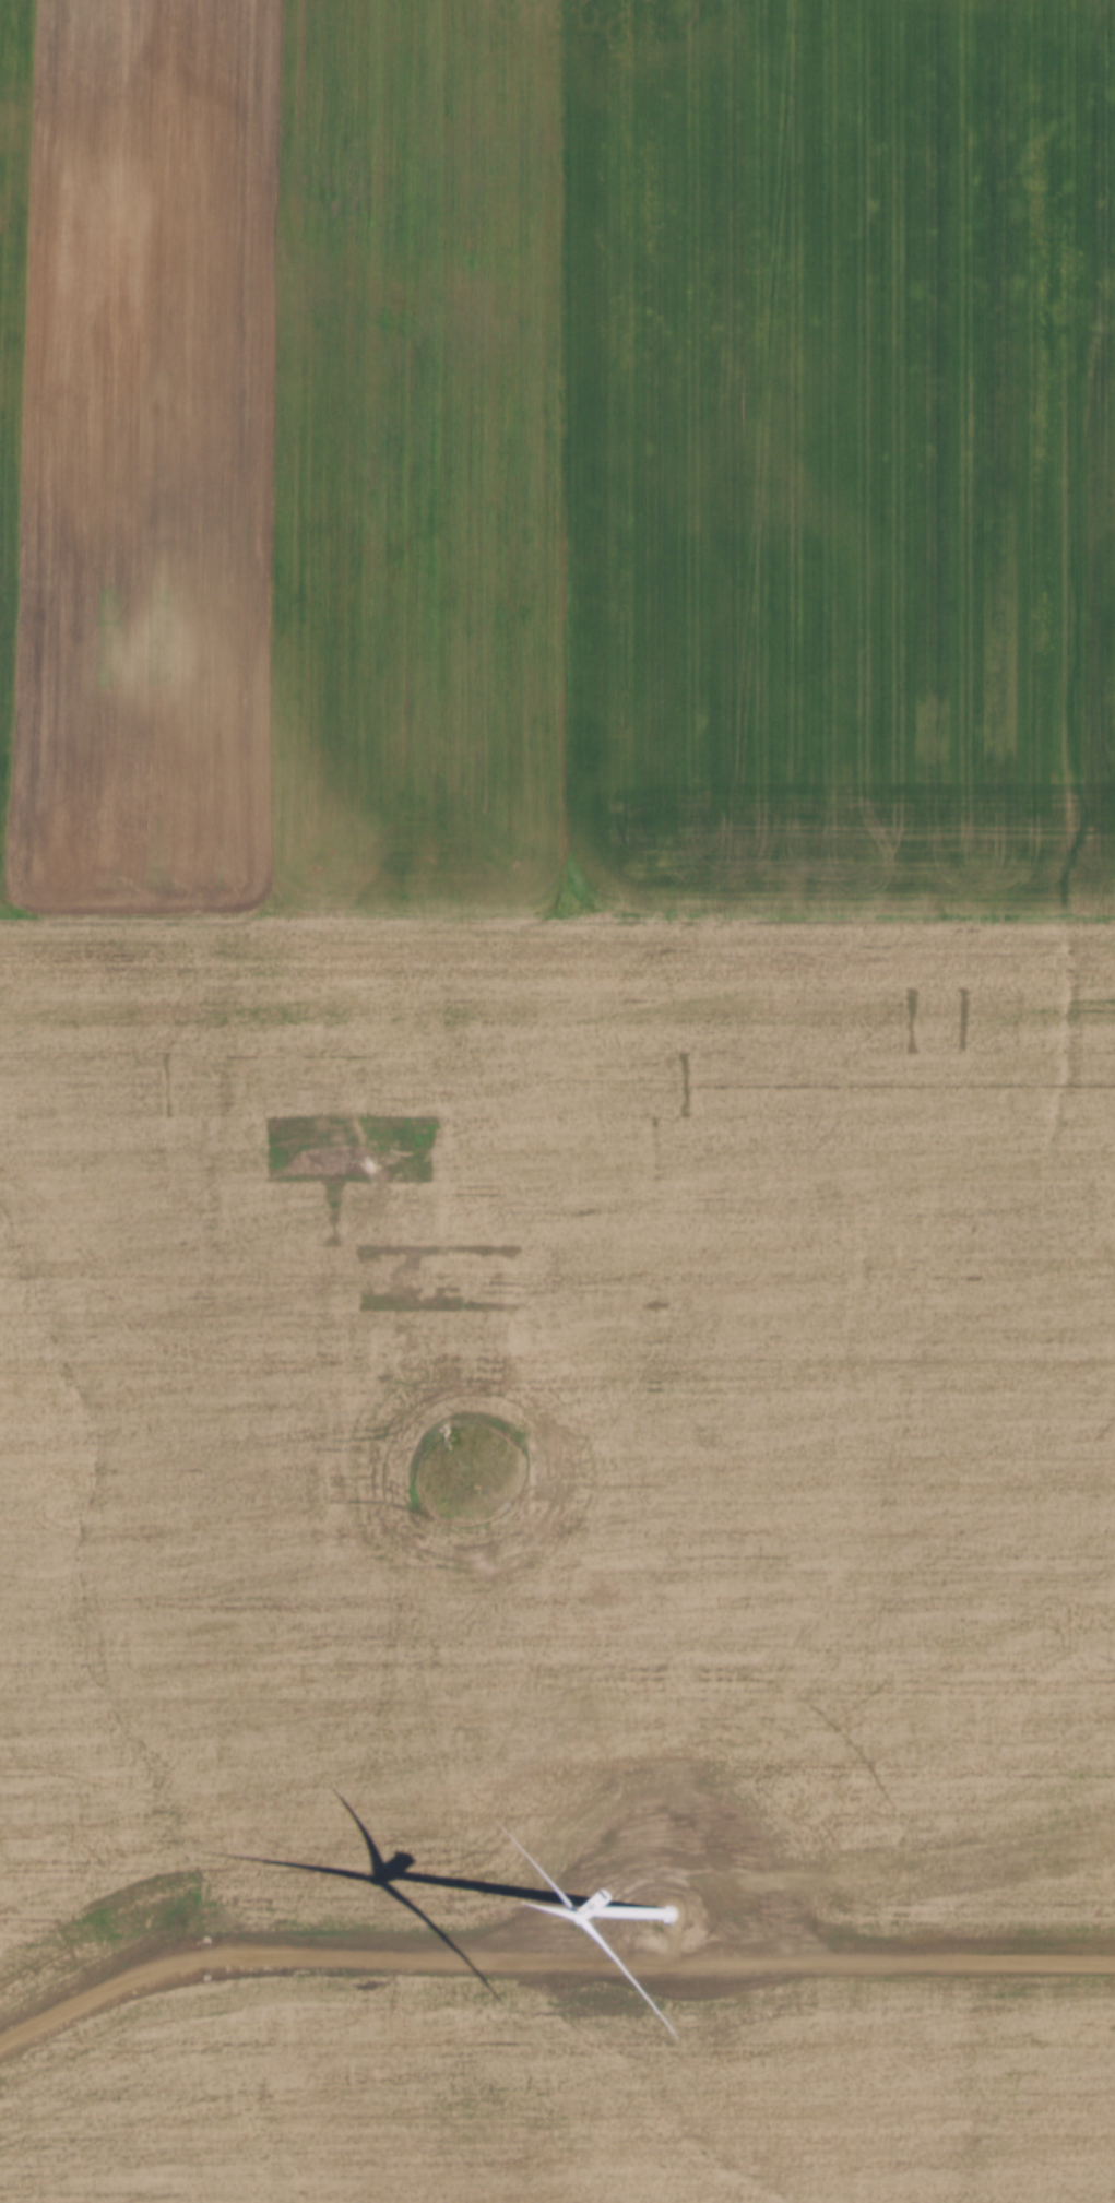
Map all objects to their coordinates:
wind turbine: (671, 1919)

